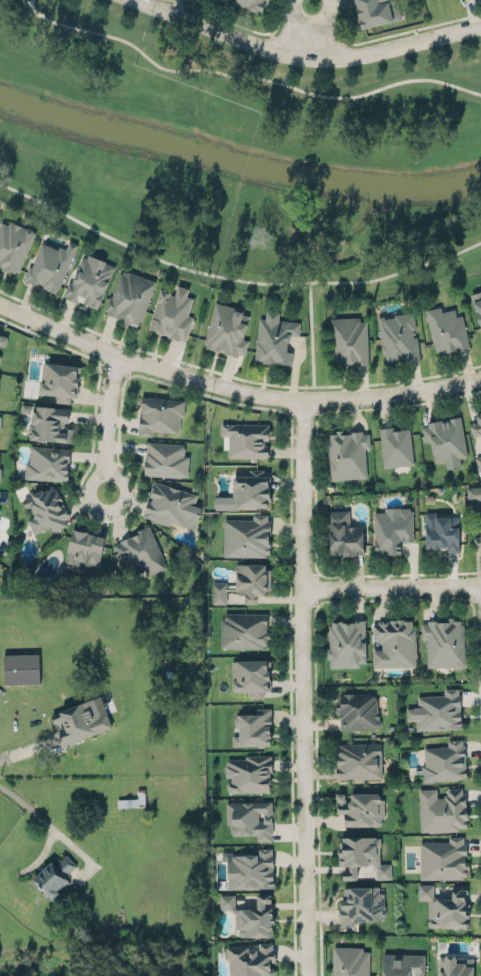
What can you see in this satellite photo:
road: (28, 4)
building: (252, 4)
building: (376, 12)
road: (240, 22)
road: (304, 30)
road: (392, 35)
road: (303, 56)
road: (241, 77)
river: (237, 162)
building: (14, 242)
building: (50, 265)
building: (90, 278)
road: (234, 278)
building: (131, 293)
building: (477, 305)
building: (172, 313)
building: (226, 327)
building: (446, 330)
building: (398, 335)
building: (3, 336)
building: (274, 339)
building: (348, 341)
building: (0, 354)
road: (234, 375)
building: (59, 381)
road: (233, 389)
road: (260, 406)
building: (160, 414)
building: (0, 418)
building: (51, 420)
road: (105, 422)
building: (477, 422)
building: (446, 438)
building: (246, 439)
building: (395, 447)
building: (347, 454)
building: (0, 455)
building: (48, 460)
building: (165, 460)
building: (479, 461)
building: (1, 471)
building: (250, 487)
building: (473, 493)
building: (170, 503)
building: (0, 509)
building: (46, 510)
building: (393, 527)
building: (344, 532)
building: (441, 532)
building: (246, 536)
building: (477, 541)
building: (84, 545)
building: (141, 549)
building: (245, 580)
road: (391, 586)
road: (302, 595)
building: (244, 629)
building: (347, 641)
building: (394, 643)
building: (443, 643)
building: (21, 668)
building: (253, 674)
building: (437, 709)
building: (357, 710)
building: (80, 718)
building: (253, 728)
road: (27, 749)
building: (444, 760)
building: (358, 761)
building: (249, 772)
road: (11, 794)
building: (361, 806)
building: (442, 808)
building: (250, 816)
building: (364, 852)
building: (444, 857)
building: (251, 868)
building: (55, 873)
road: (305, 884)
building: (227, 901)
building: (446, 903)
building: (360, 904)
building: (255, 918)
building: (252, 958)
building: (350, 961)
building: (403, 963)
building: (455, 964)

